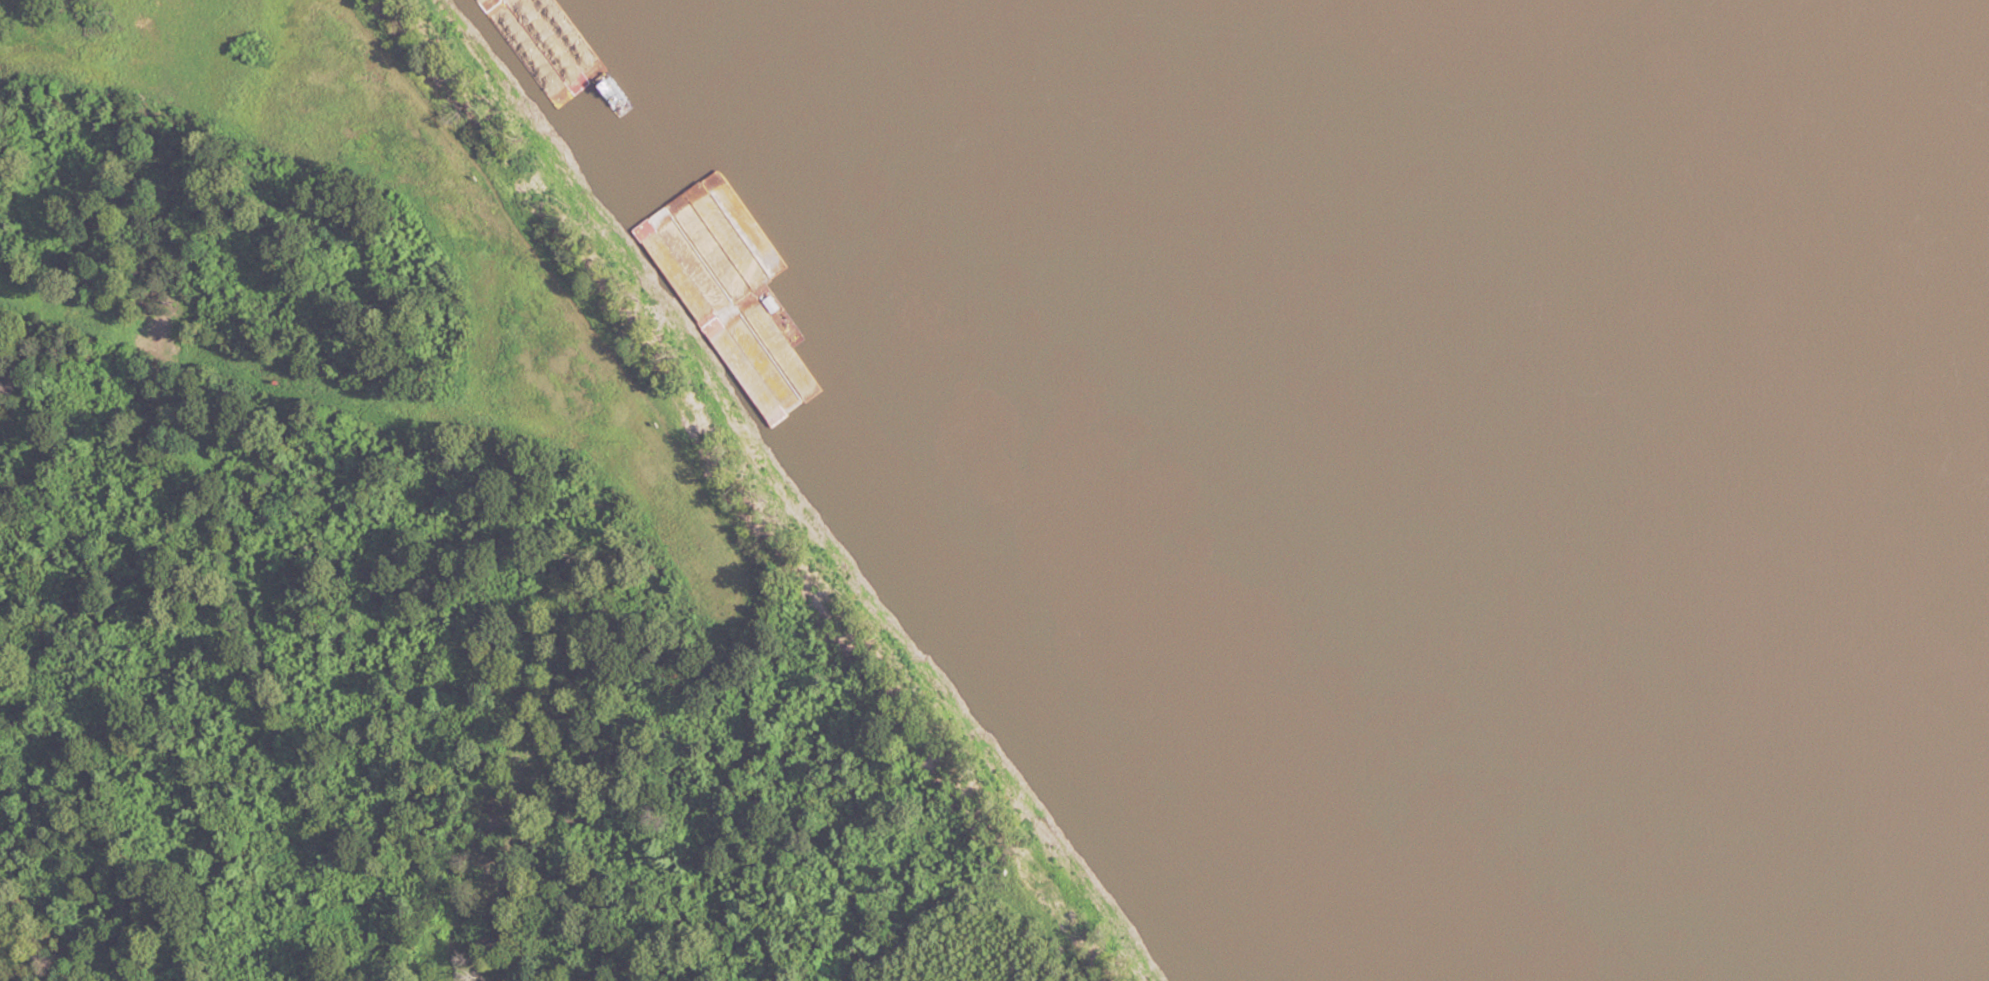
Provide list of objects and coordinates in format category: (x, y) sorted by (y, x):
river: (1944, 50)

